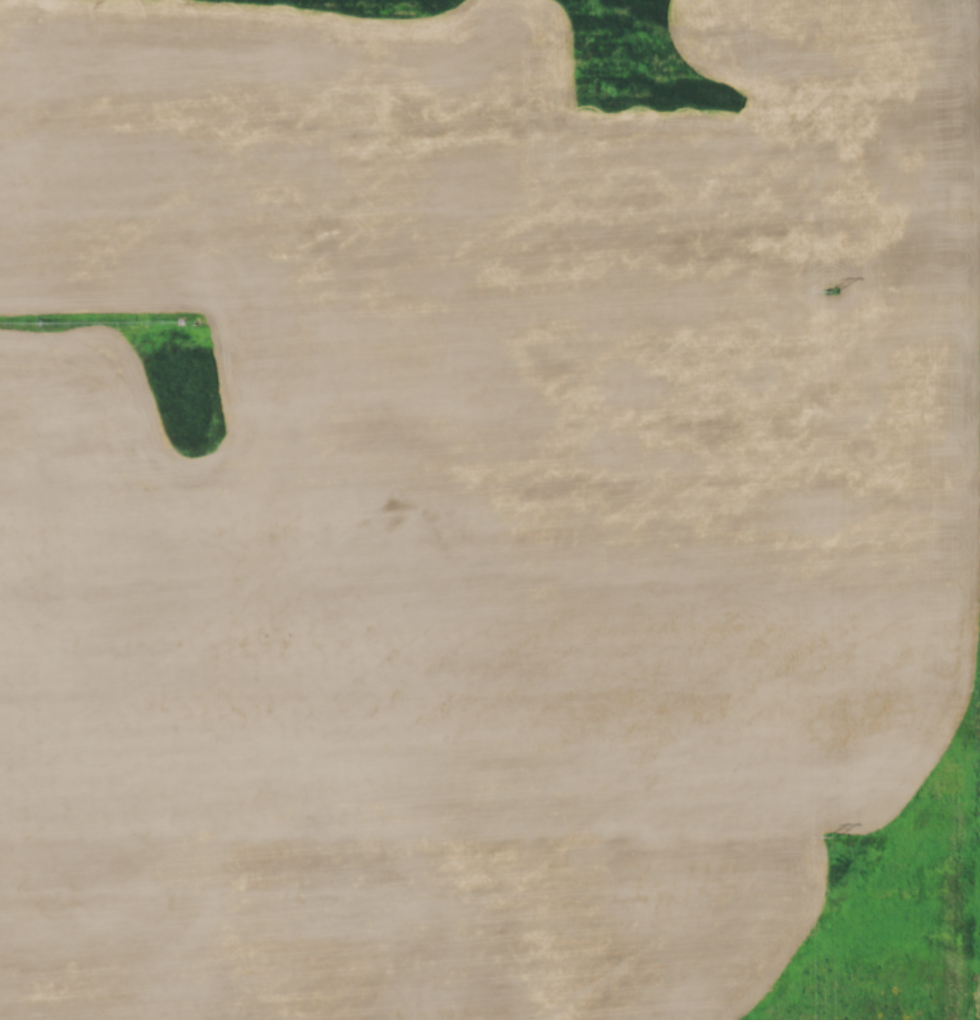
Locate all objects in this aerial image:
power tower: (831, 294)
power tower: (830, 840)

